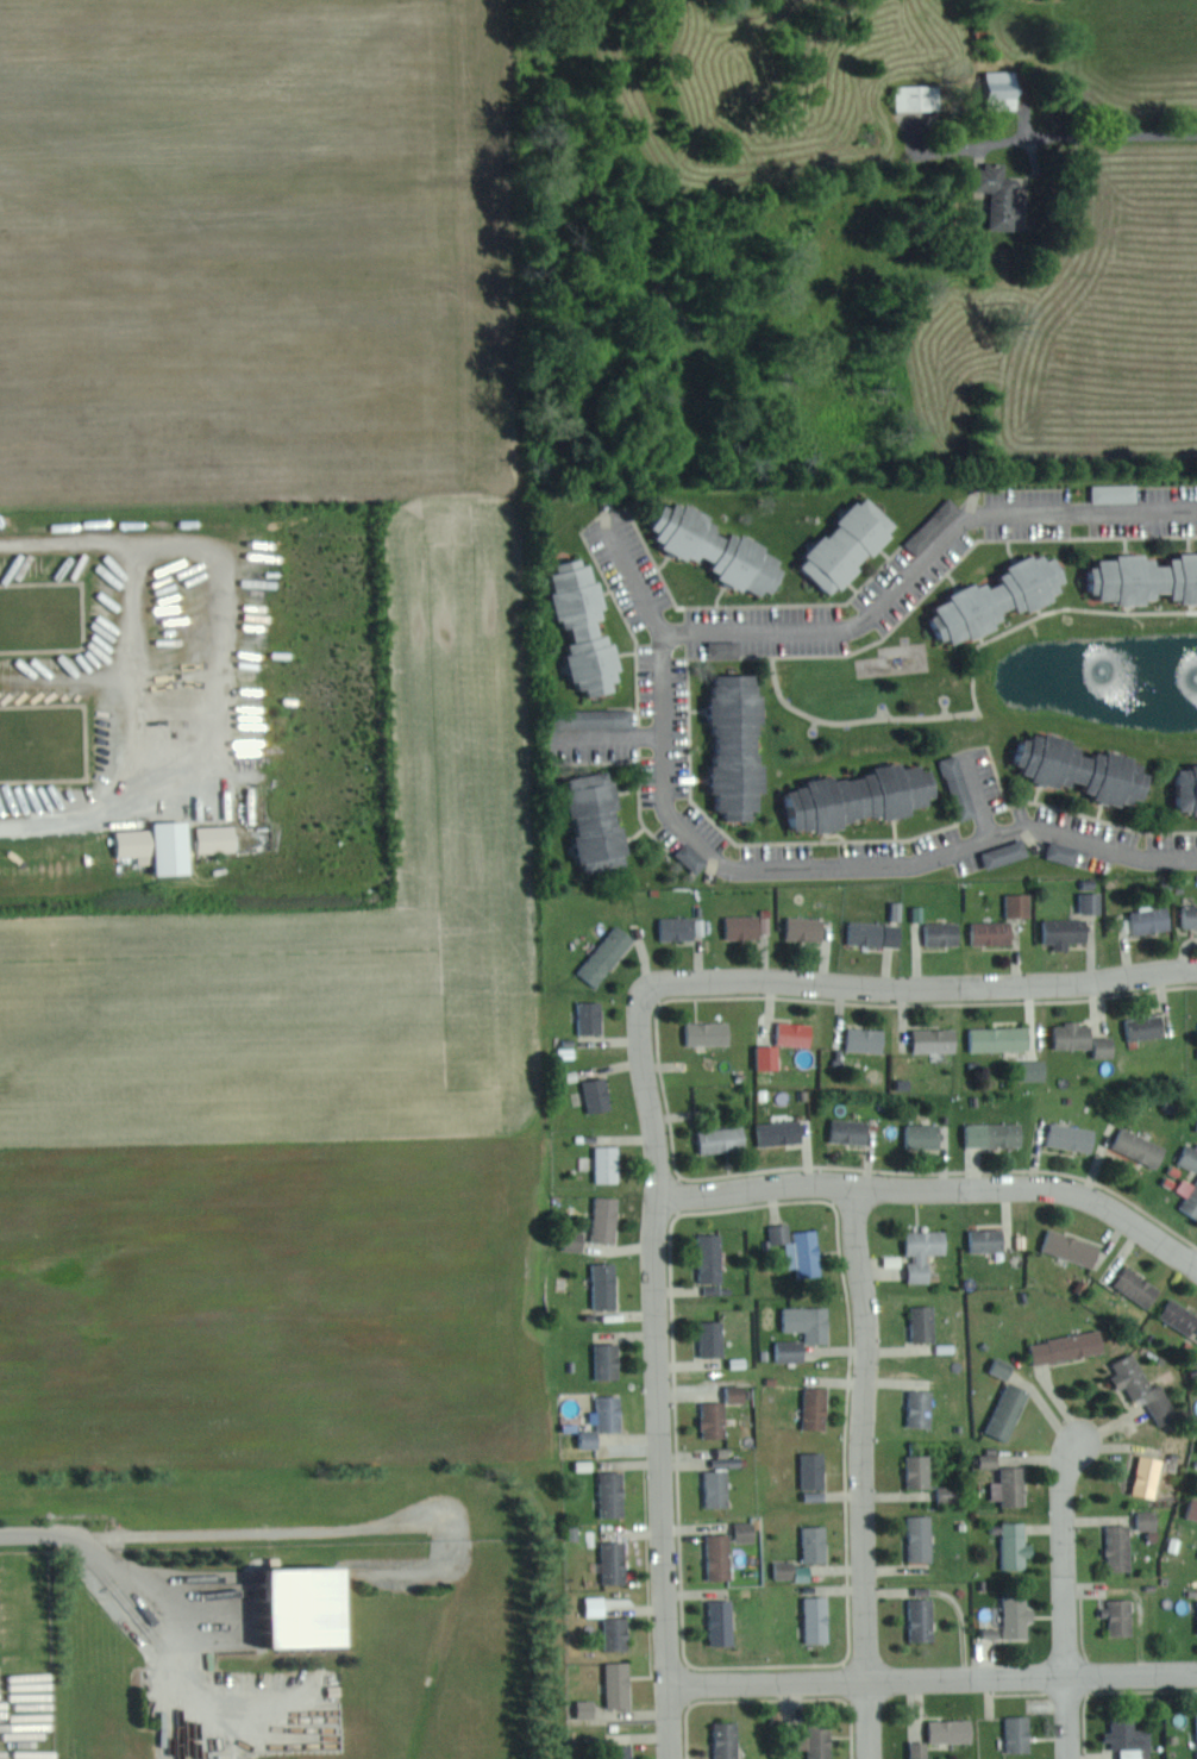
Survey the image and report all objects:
building: (1007, 90)
building: (922, 98)
road: (1120, 134)
building: (1118, 493)
building: (936, 526)
building: (852, 544)
building: (722, 547)
road: (929, 562)
building: (1147, 577)
road: (639, 582)
building: (1002, 599)
building: (589, 626)
building: (727, 649)
building: (606, 718)
building: (741, 744)
building: (1086, 768)
building: (961, 787)
building: (1187, 787)
building: (863, 796)
building: (602, 821)
building: (220, 838)
building: (139, 844)
building: (175, 846)
building: (1065, 852)
building: (1009, 853)
building: (695, 857)
road: (841, 871)
building: (1092, 902)
building: (1021, 904)
building: (1190, 915)
building: (1153, 920)
building: (750, 926)
building: (681, 927)
building: (808, 928)
building: (995, 932)
building: (1067, 932)
building: (871, 933)
building: (946, 933)
building: (609, 954)
building: (593, 1016)
building: (1148, 1027)
building: (710, 1032)
building: (798, 1033)
building: (1076, 1035)
building: (1002, 1038)
building: (869, 1039)
building: (938, 1039)
building: (1107, 1046)
building: (771, 1056)
building: (600, 1094)
road: (653, 1100)
building: (853, 1131)
building: (783, 1132)
building: (997, 1134)
building: (926, 1135)
building: (1074, 1137)
building: (726, 1139)
building: (1142, 1146)
building: (1190, 1157)
building: (610, 1163)
road: (939, 1187)
building: (608, 1219)
building: (577, 1239)
building: (990, 1240)
building: (1074, 1247)
building: (802, 1248)
building: (927, 1252)
building: (714, 1257)
building: (608, 1285)
building: (1141, 1287)
building: (1182, 1315)
building: (811, 1322)
building: (927, 1322)
building: (714, 1338)
building: (1071, 1346)
building: (792, 1351)
building: (610, 1360)
building: (1004, 1367)
building: (1147, 1388)
building: (740, 1394)
building: (819, 1407)
building: (925, 1408)
building: (1010, 1410)
building: (613, 1413)
building: (717, 1419)
building: (591, 1439)
building: (992, 1460)
building: (727, 1461)
building: (922, 1471)
road: (866, 1473)
building: (816, 1476)
building: (1151, 1476)
building: (1013, 1486)
building: (719, 1488)
building: (614, 1494)
building: (1193, 1508)
building: (1152, 1520)
building: (747, 1532)
road: (213, 1535)
building: (923, 1538)
building: (819, 1544)
building: (1017, 1545)
building: (1122, 1547)
building: (722, 1555)
road: (1065, 1558)
building: (616, 1561)
building: (795, 1571)
building: (598, 1605)
building: (313, 1608)
building: (1020, 1616)
building: (1123, 1616)
building: (820, 1619)
building: (925, 1619)
building: (723, 1622)
building: (619, 1633)
building: (994, 1633)
road: (934, 1679)
building: (621, 1684)
building: (589, 1708)
road: (1072, 1717)
building: (954, 1730)
building: (1021, 1734)
building: (1132, 1738)
building: (728, 1740)
building: (821, 1741)
building: (922, 1749)
building: (625, 1751)

